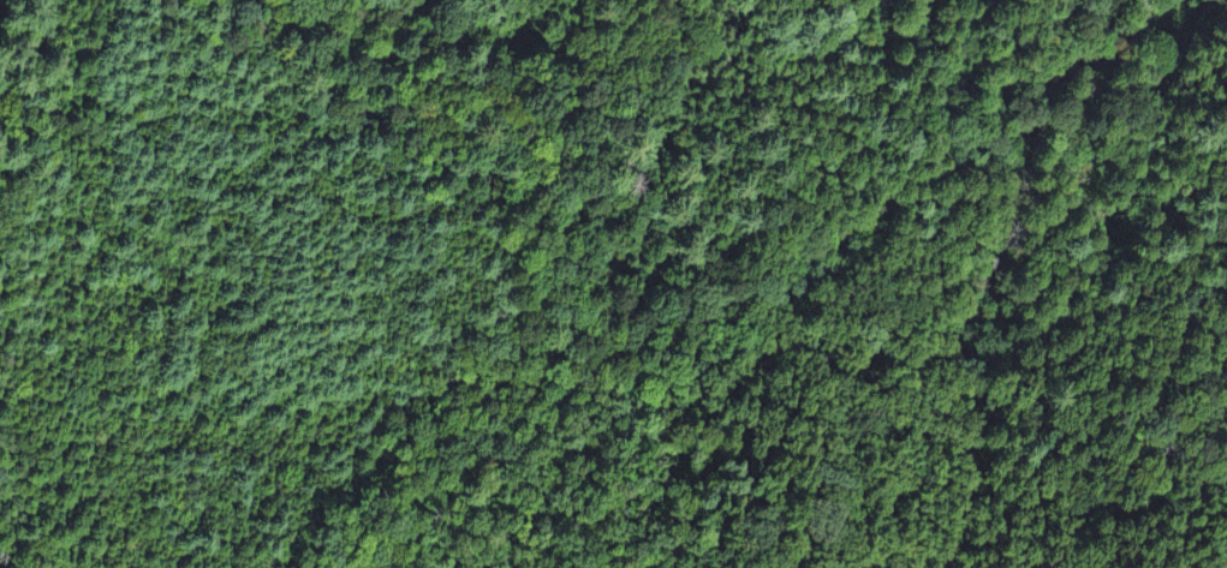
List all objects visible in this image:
road: (897, 2)
road: (1133, 66)

